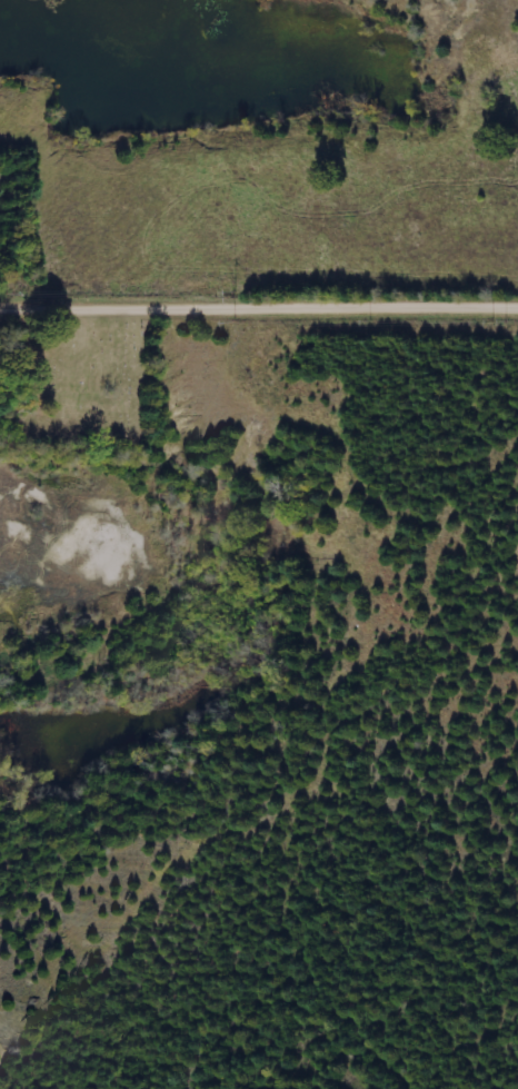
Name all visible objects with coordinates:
road: (258, 306)
park: (81, 383)

